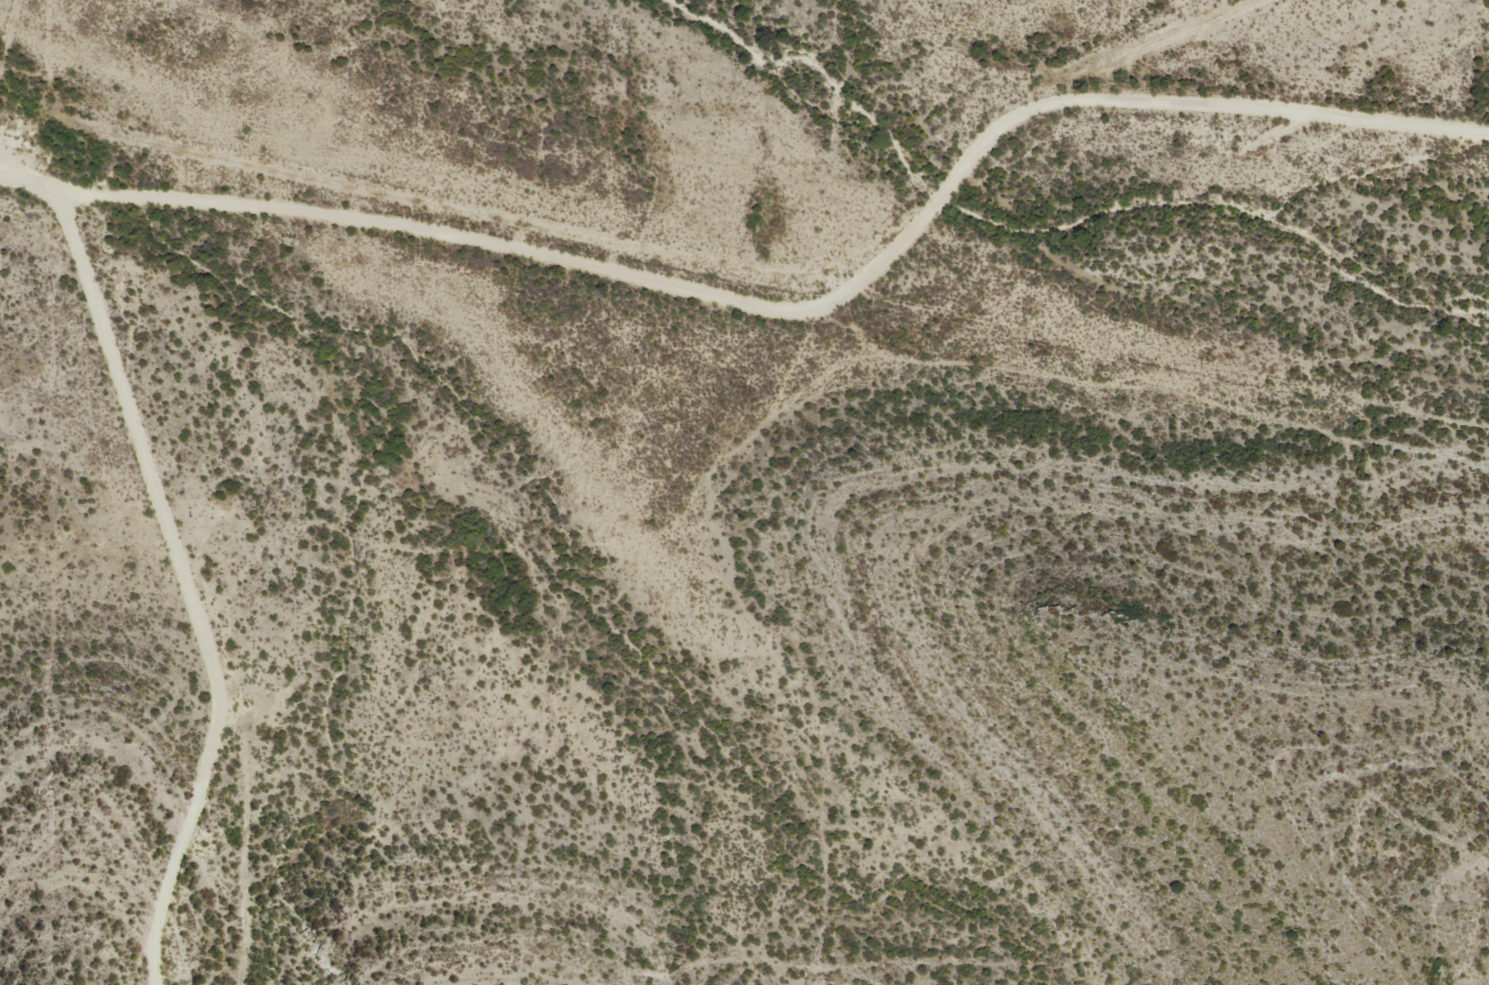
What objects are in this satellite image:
road: (1291, 164)
road: (697, 300)

